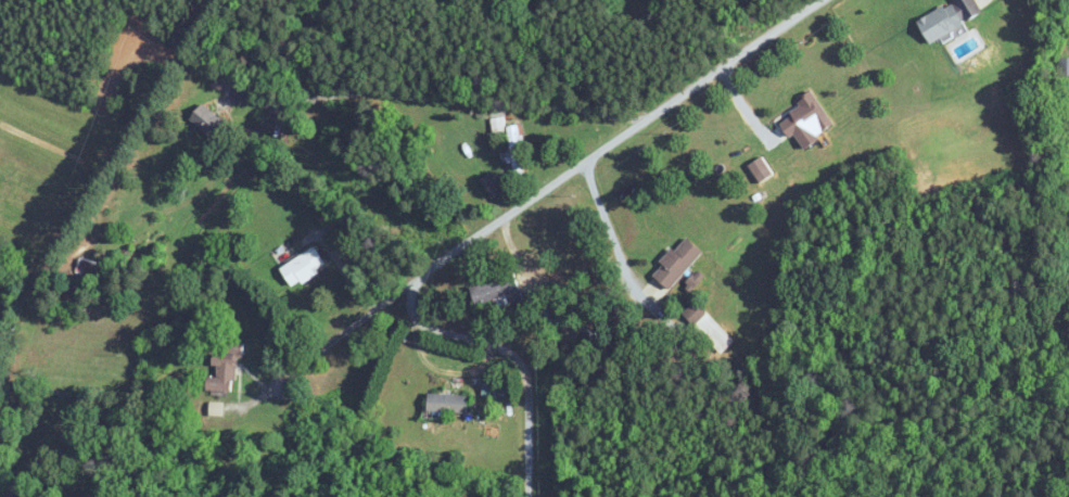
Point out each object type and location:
building: (949, 17)
building: (1064, 66)
road: (434, 97)
building: (806, 116)
building: (208, 122)
road: (262, 124)
building: (498, 125)
road: (561, 167)
road: (606, 219)
building: (676, 263)
building: (303, 266)
building: (495, 289)
building: (558, 303)
building: (709, 328)
road: (526, 352)
building: (225, 370)
road: (273, 384)
building: (446, 404)

